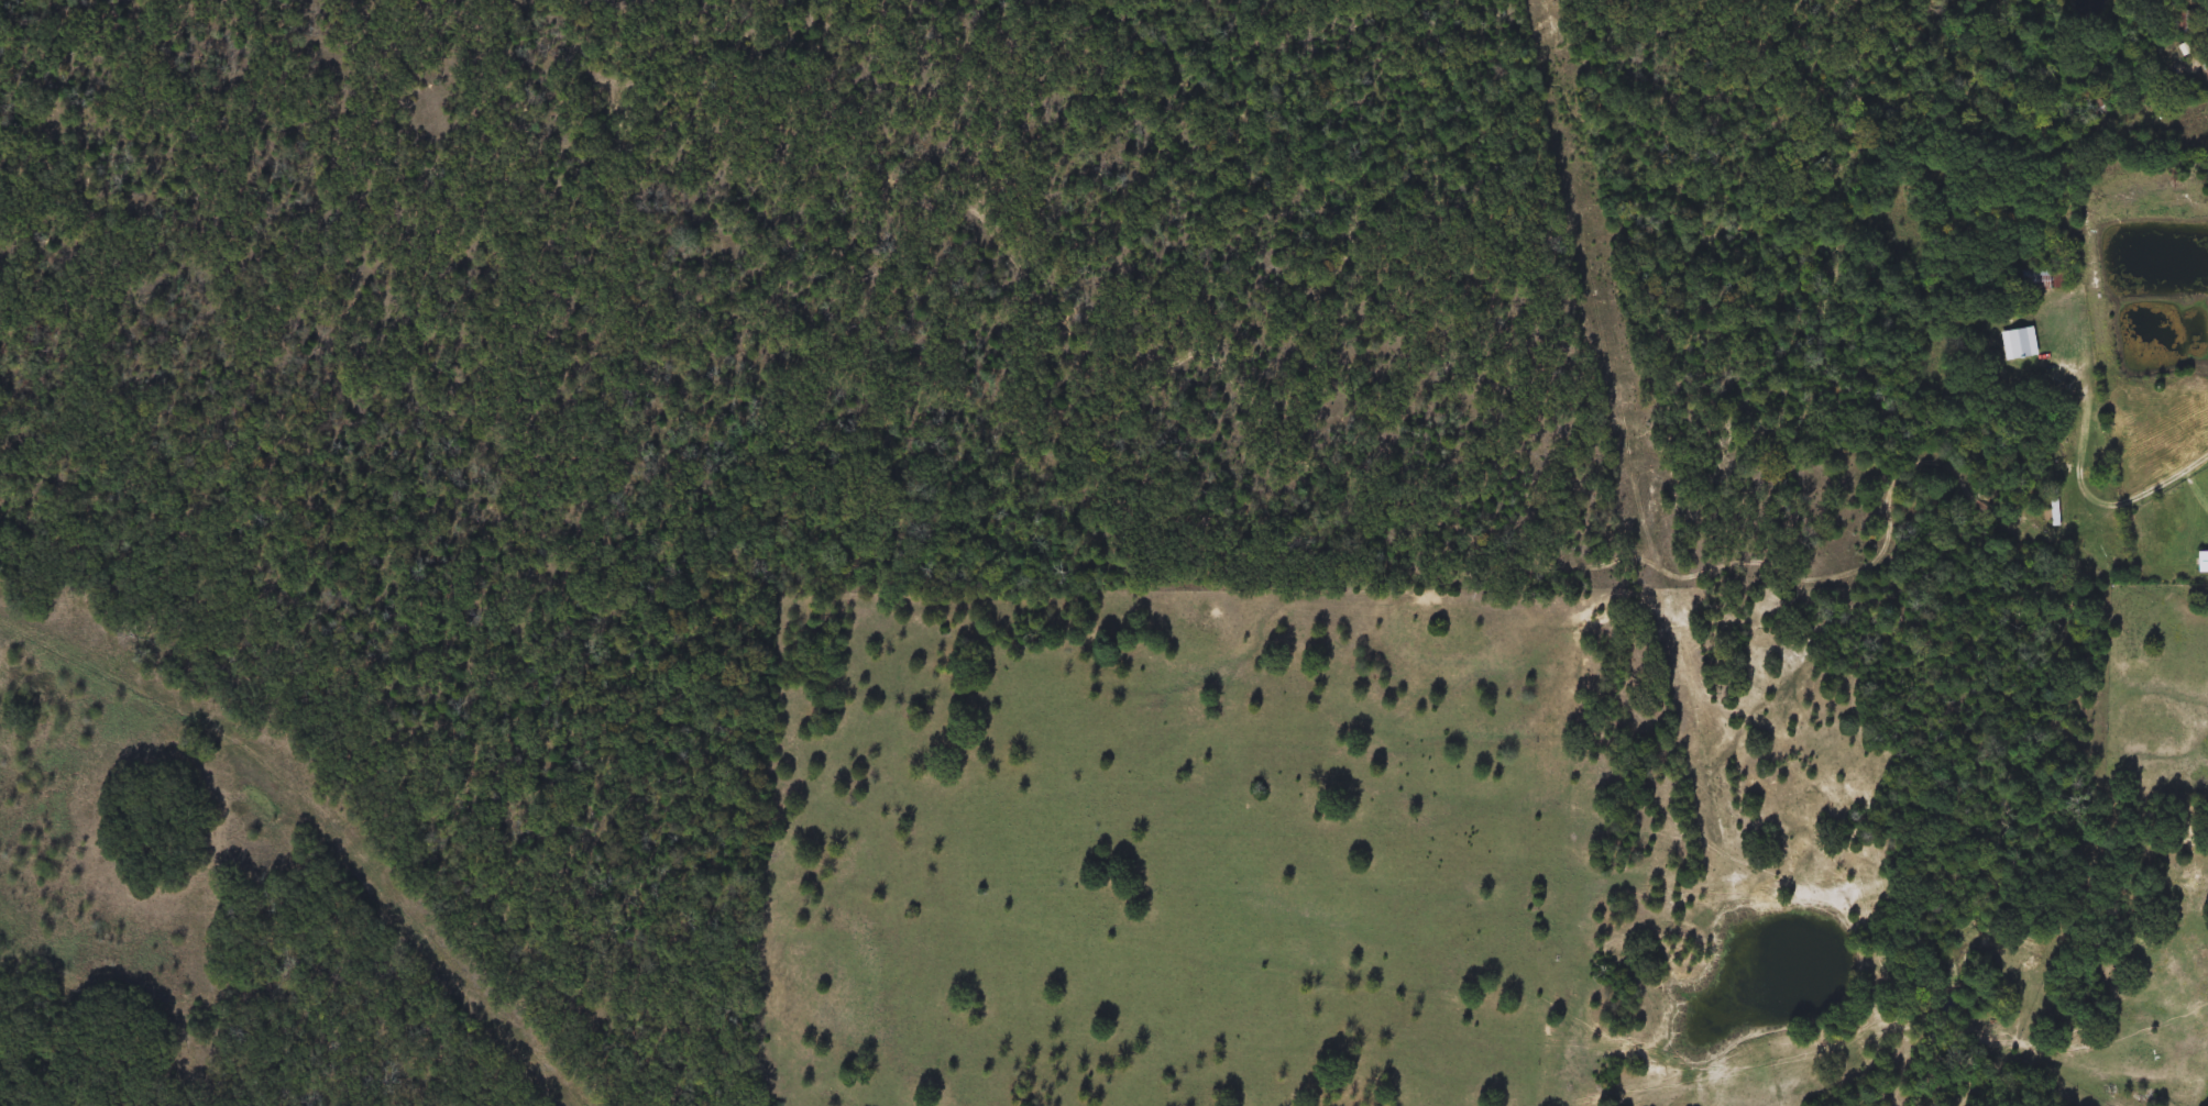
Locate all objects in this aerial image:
building: (2185, 21)
building: (2033, 280)
building: (2018, 343)
road: (2094, 489)
building: (2055, 506)
building: (2201, 562)

